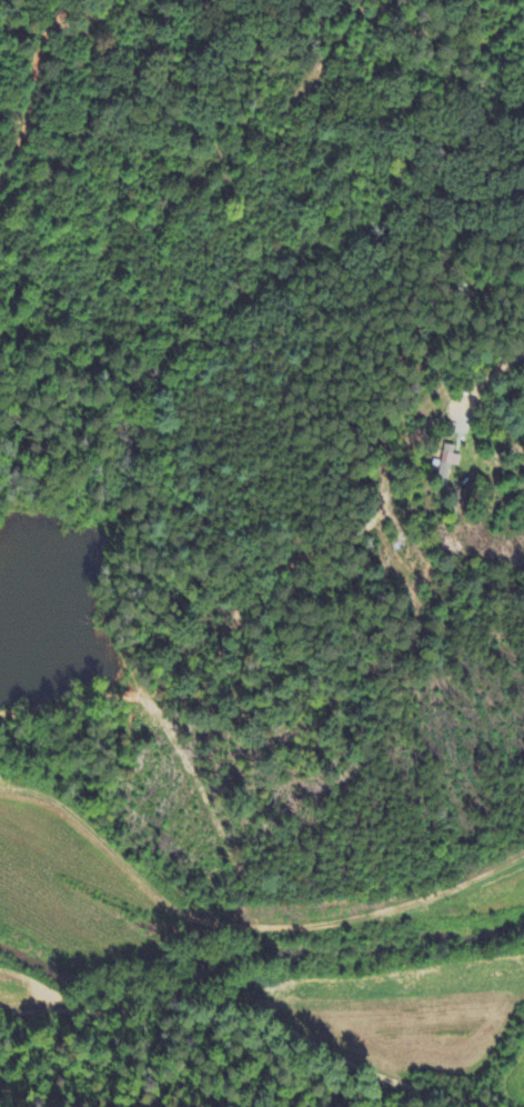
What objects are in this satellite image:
road: (494, 377)
road: (343, 827)
road: (246, 921)

